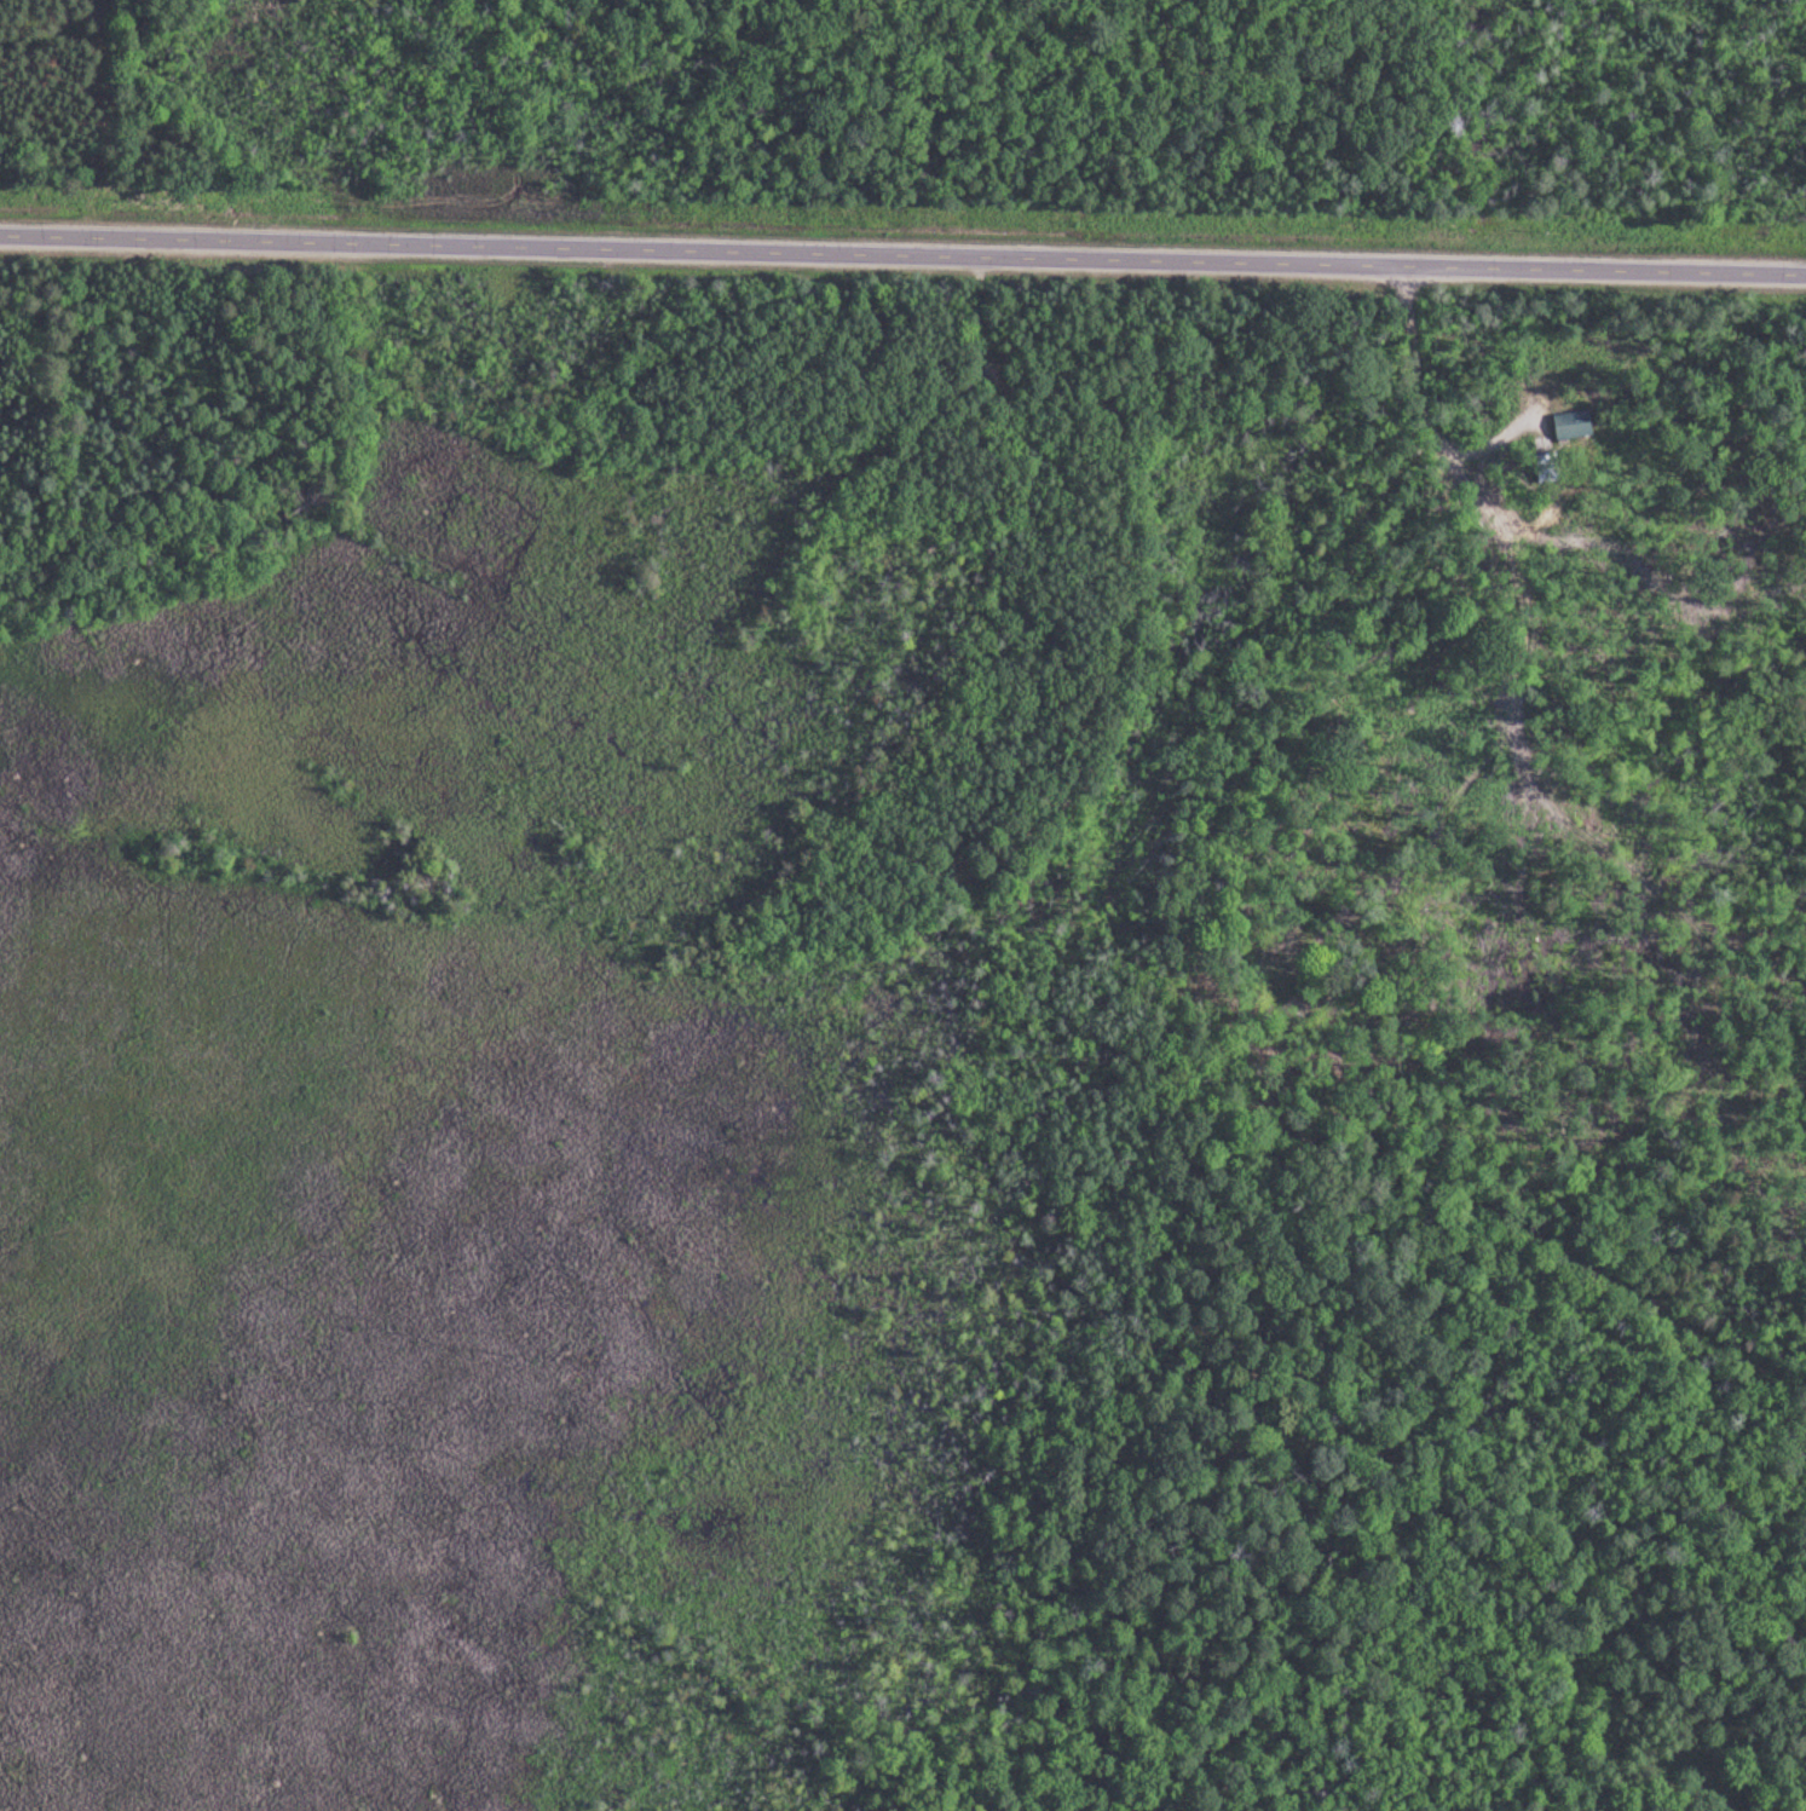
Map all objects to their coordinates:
road: (902, 258)
building: (1580, 427)
road: (1599, 663)

